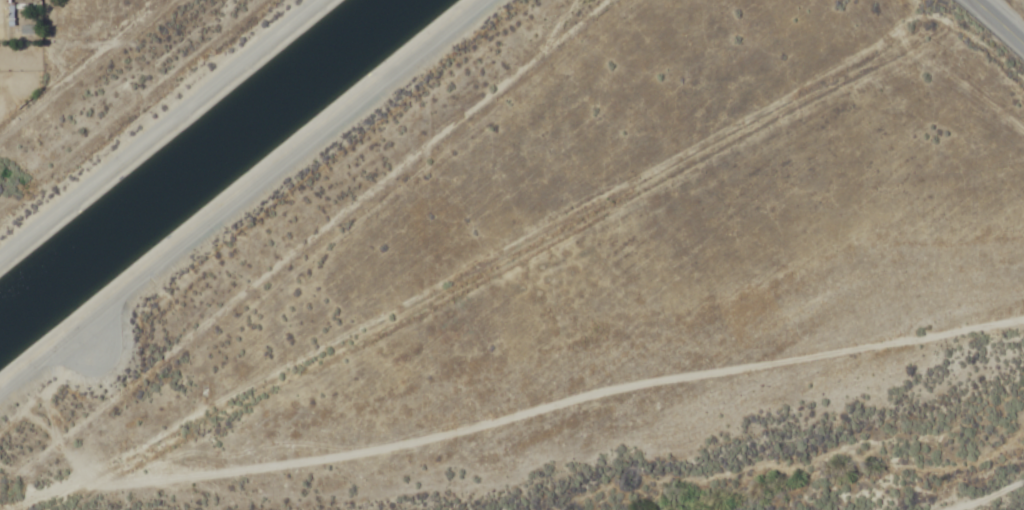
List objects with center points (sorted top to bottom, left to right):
road: (996, 24)
road: (157, 128)
road: (242, 197)

